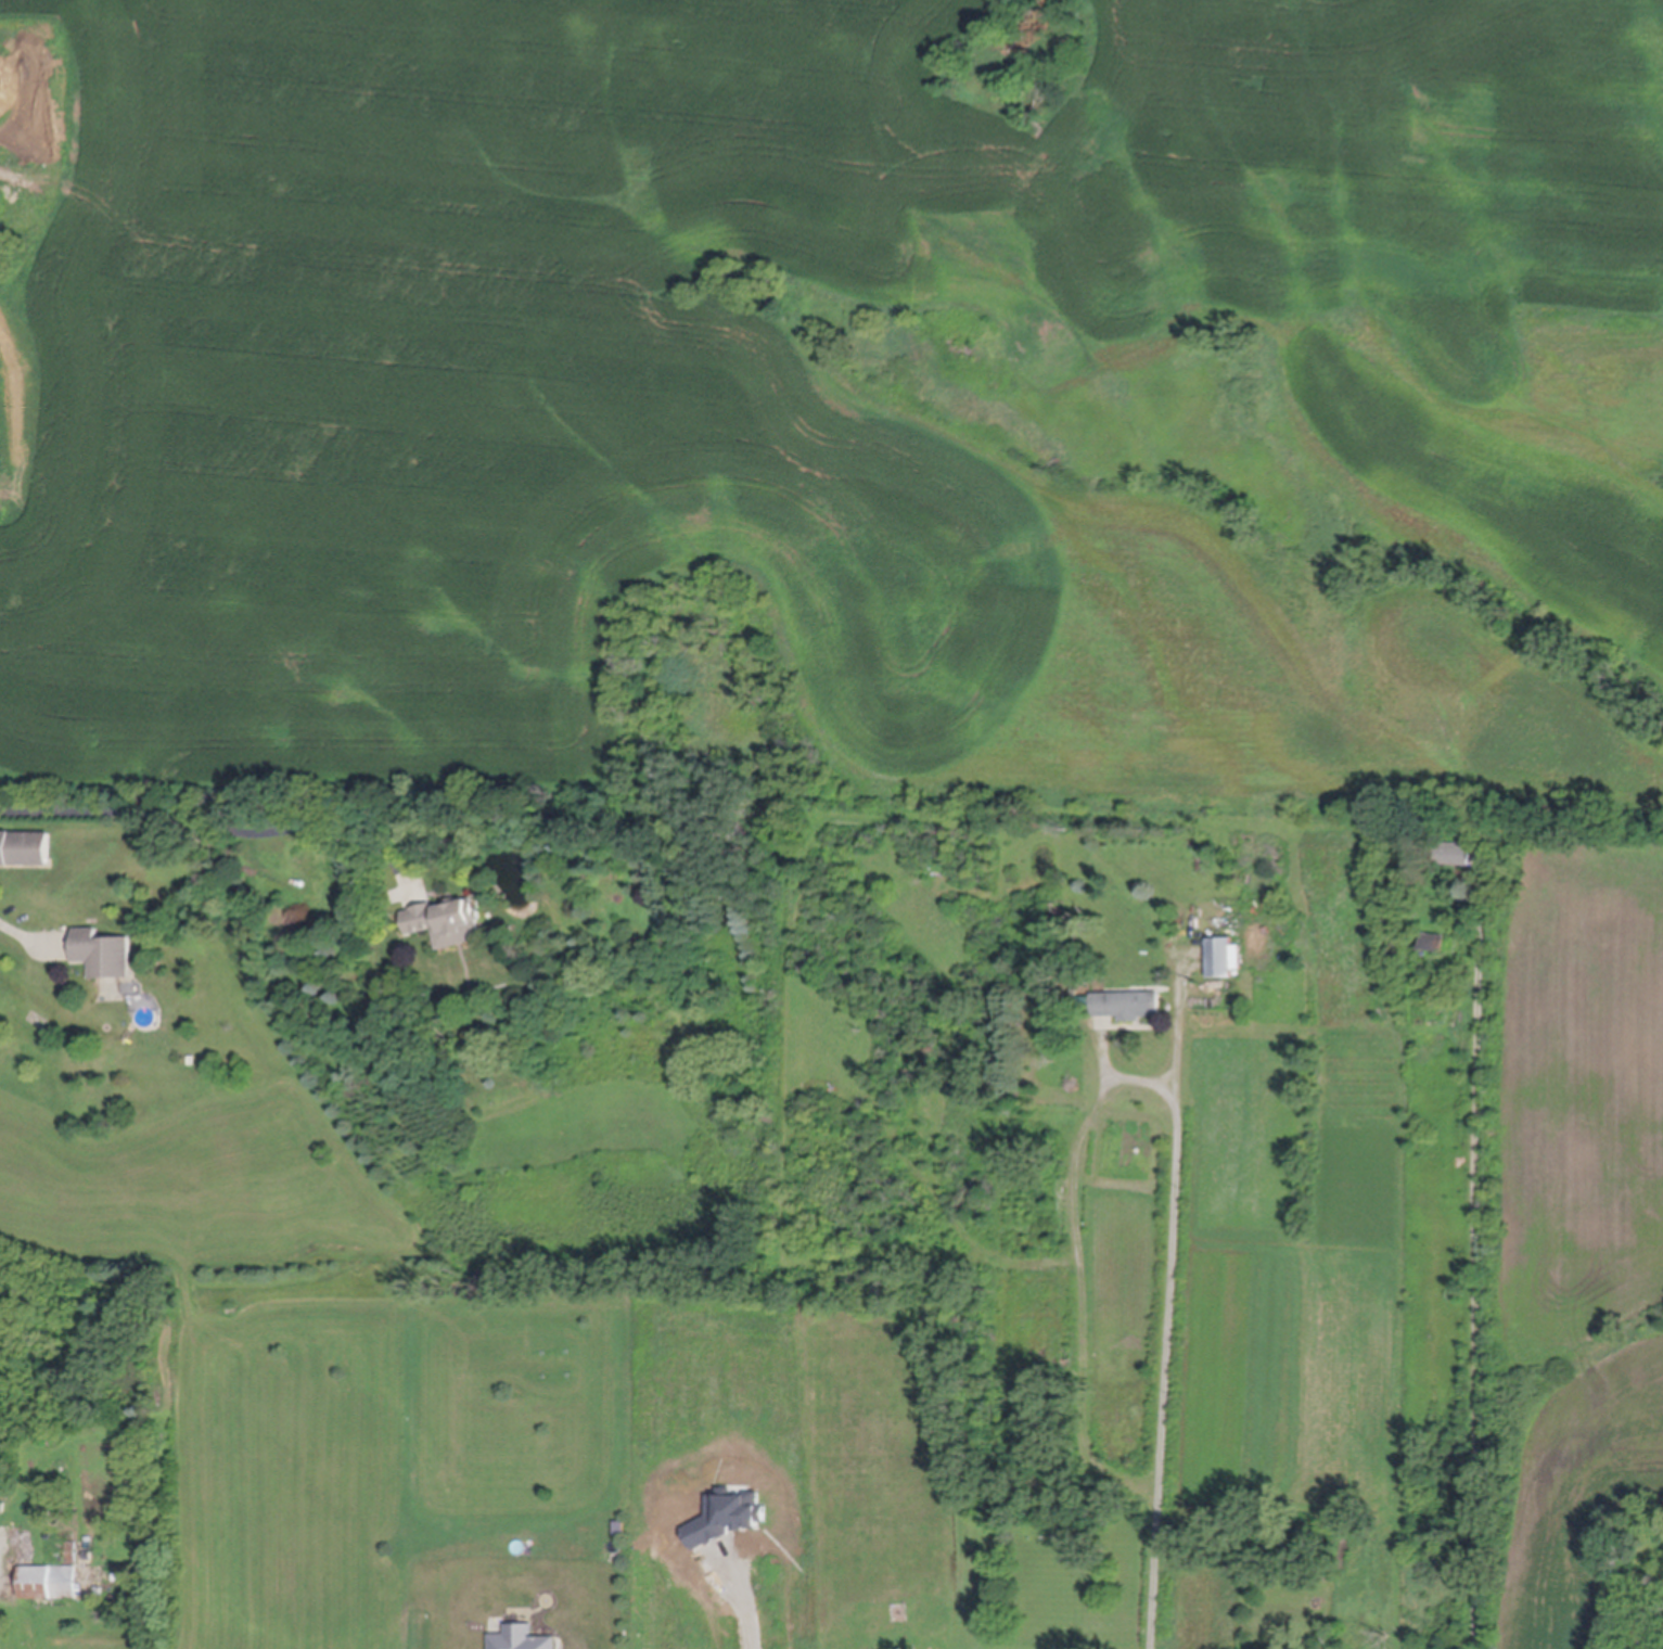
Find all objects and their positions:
road: (218, 826)
building: (25, 852)
building: (1455, 855)
building: (447, 924)
road: (25, 932)
building: (1433, 946)
building: (105, 958)
building: (1225, 961)
building: (1128, 1008)
building: (1230, 1057)
road: (1141, 1068)
road: (1474, 1260)
road: (1178, 1296)
building: (51, 1585)
road: (740, 1605)
building: (1636, 1635)

